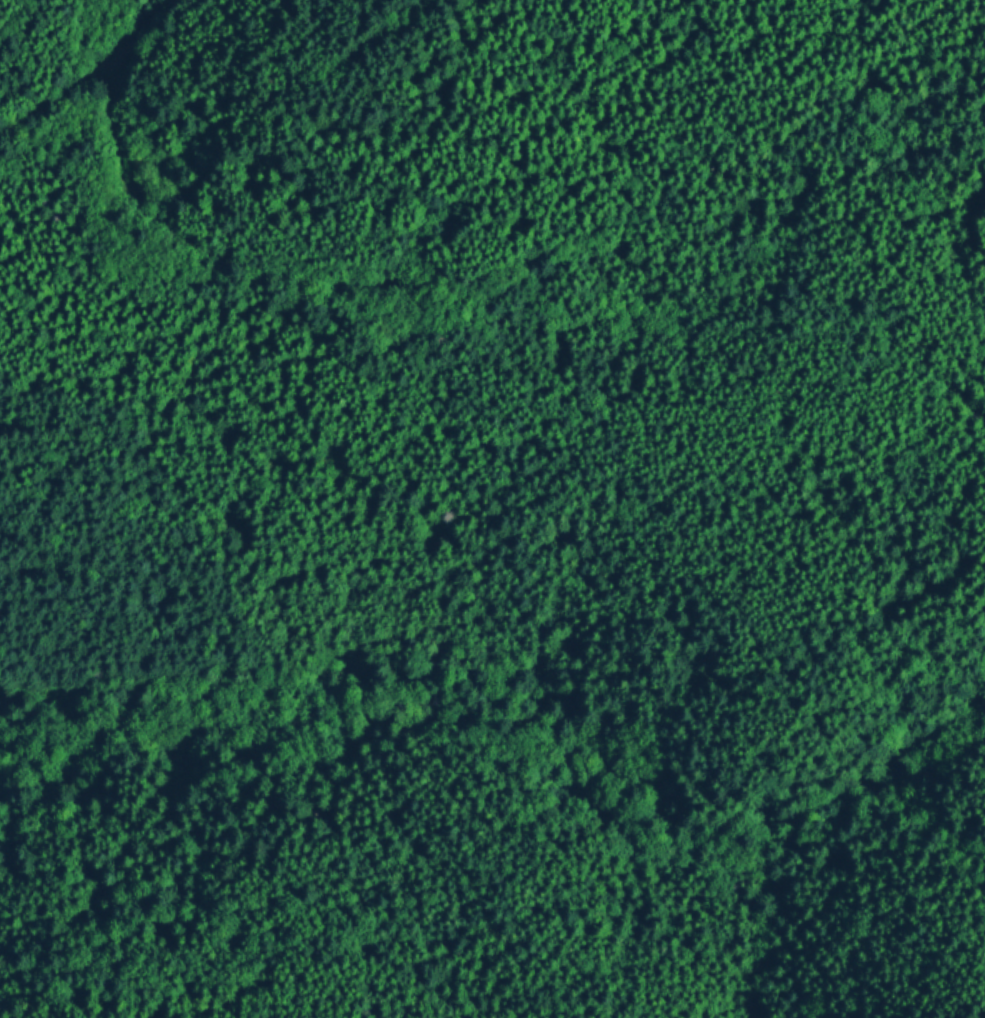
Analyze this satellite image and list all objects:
road: (392, 21)
road: (84, 71)
road: (211, 256)

